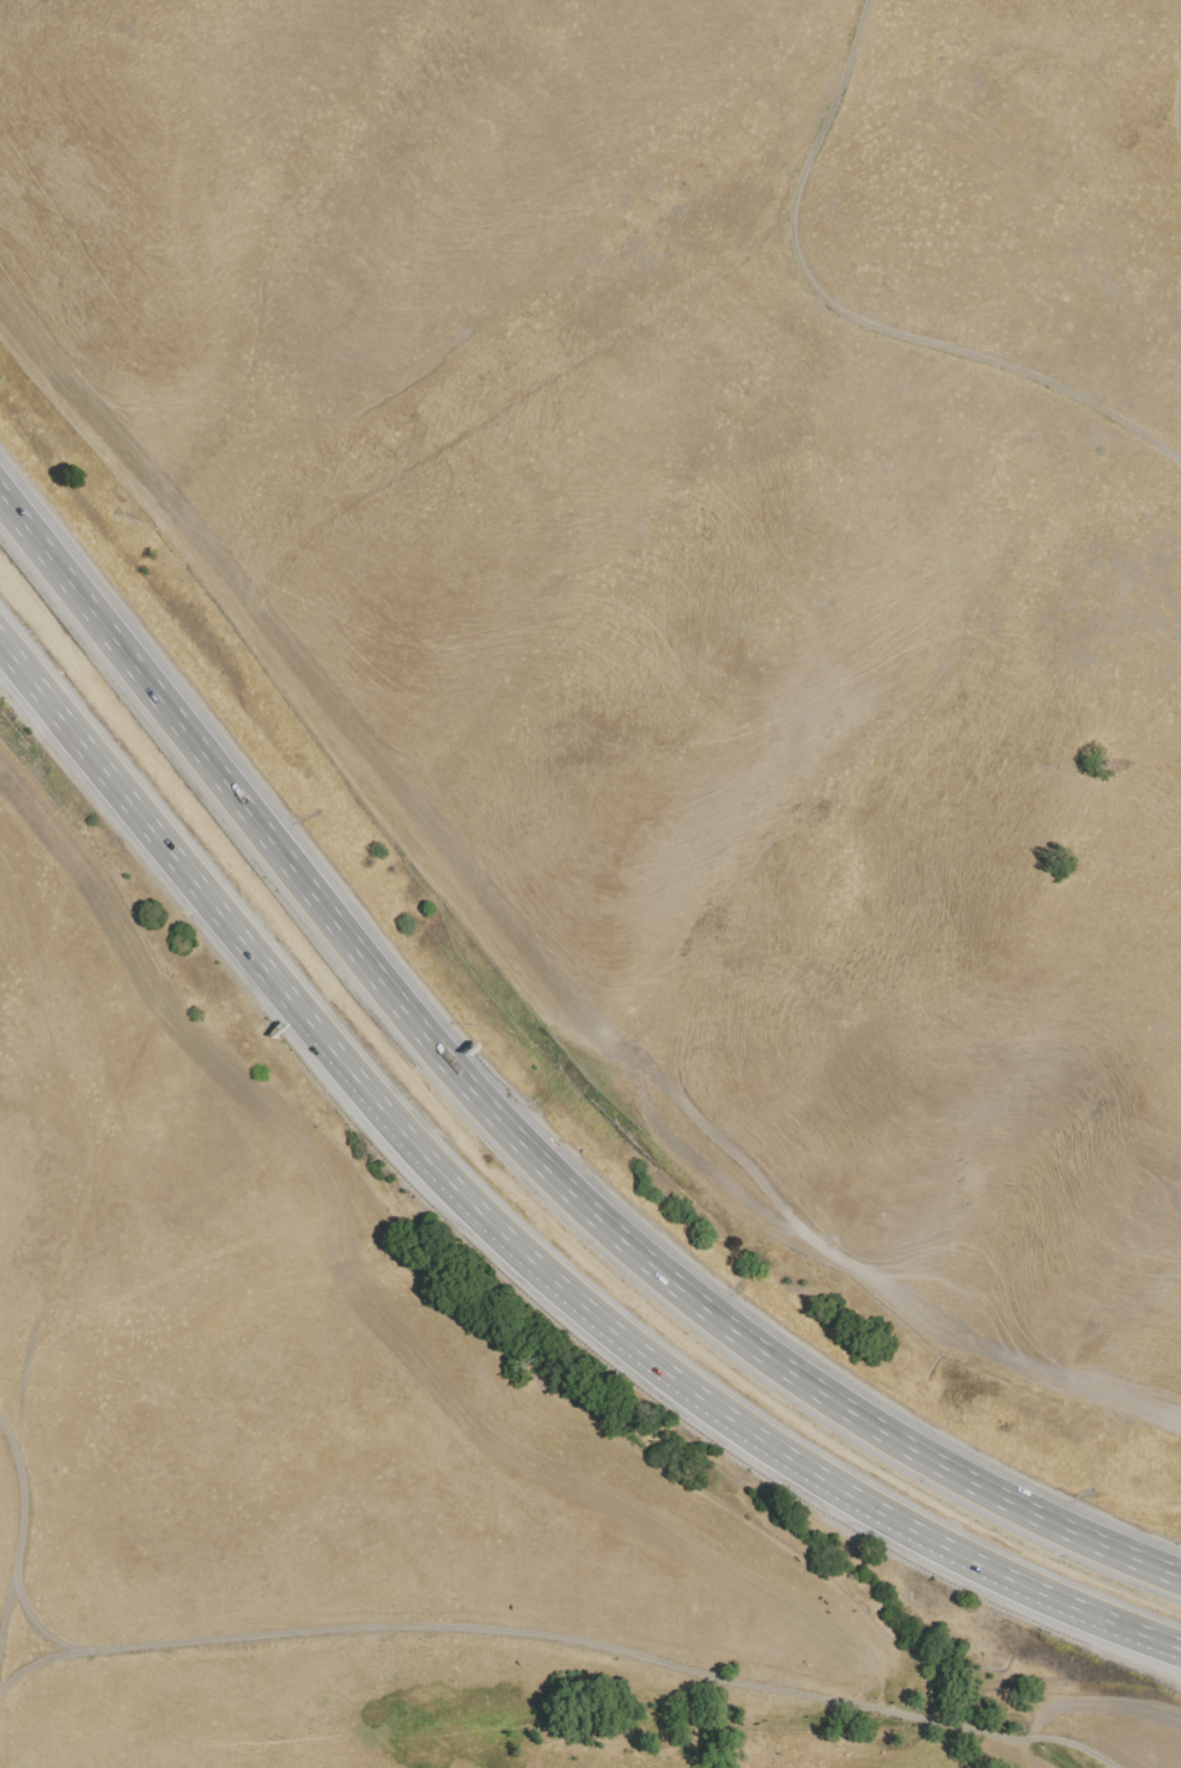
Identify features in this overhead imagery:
road: (860, 314)
road: (509, 1129)
road: (513, 1234)
road: (65, 1247)
road: (20, 1542)
road: (4, 1624)
road: (548, 1652)

